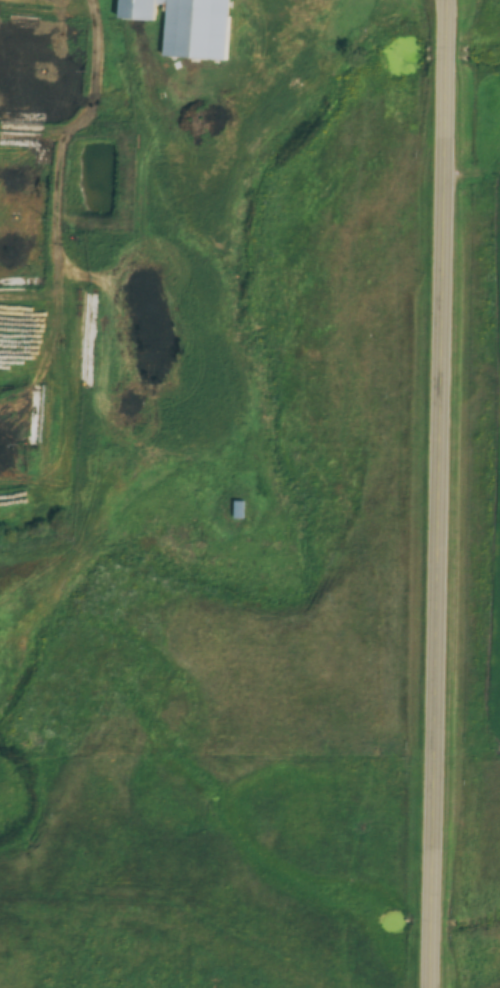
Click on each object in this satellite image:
building: (179, 26)
building: (98, 423)
road: (446, 494)

